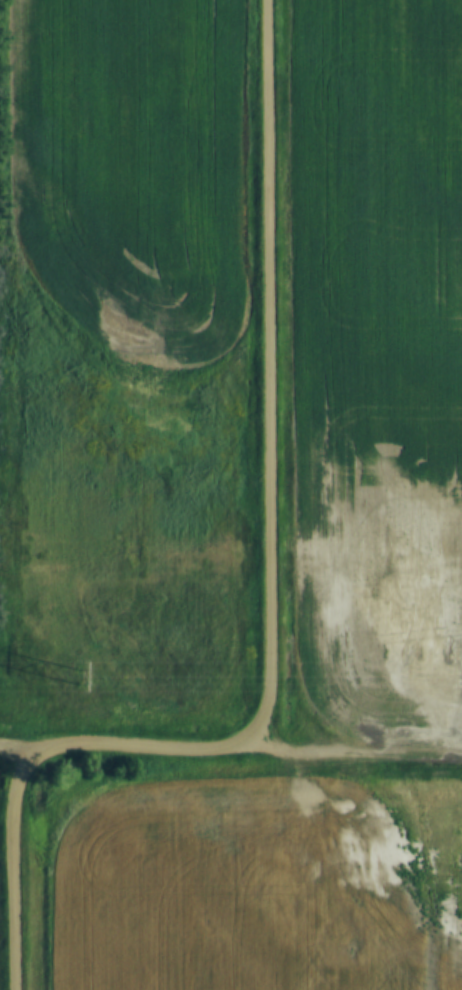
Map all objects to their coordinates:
road: (269, 377)
power tower: (73, 674)
road: (155, 749)
road: (23, 752)
road: (363, 753)
road: (14, 865)

